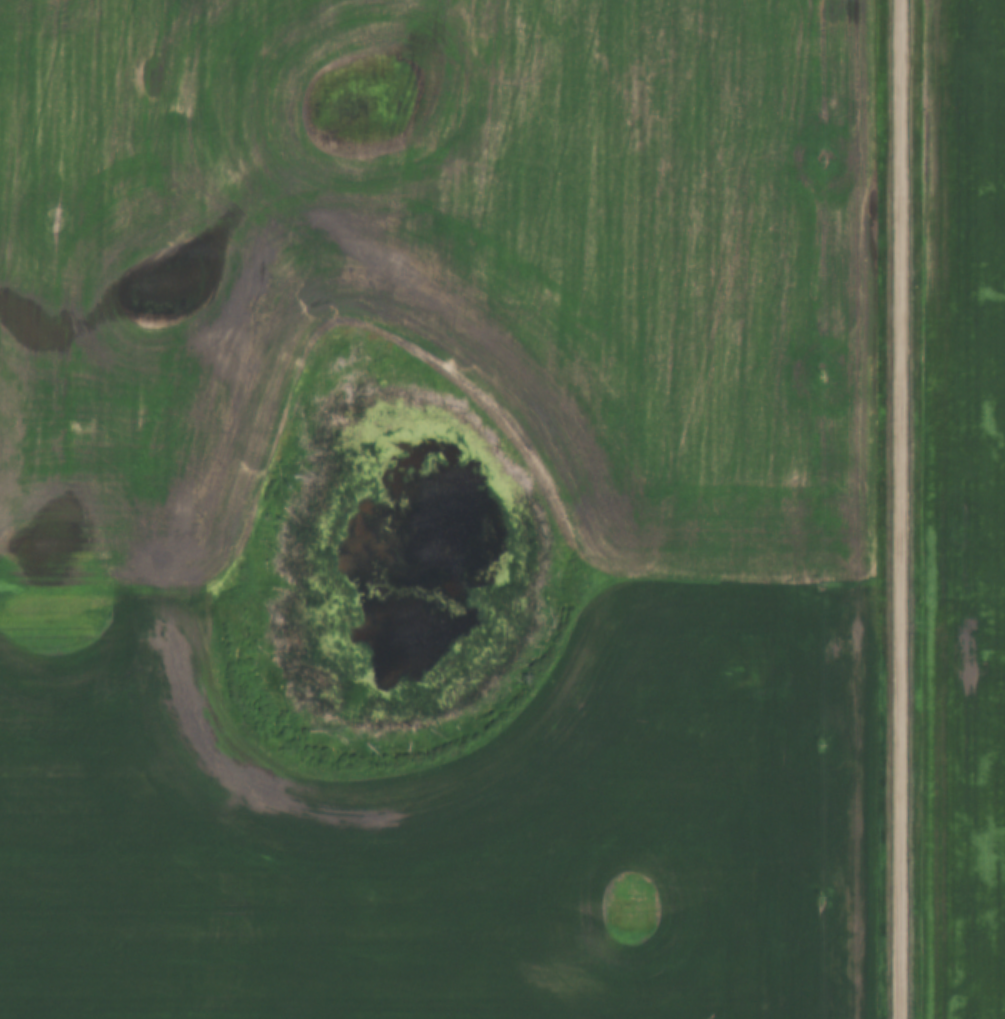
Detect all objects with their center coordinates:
road: (900, 509)

